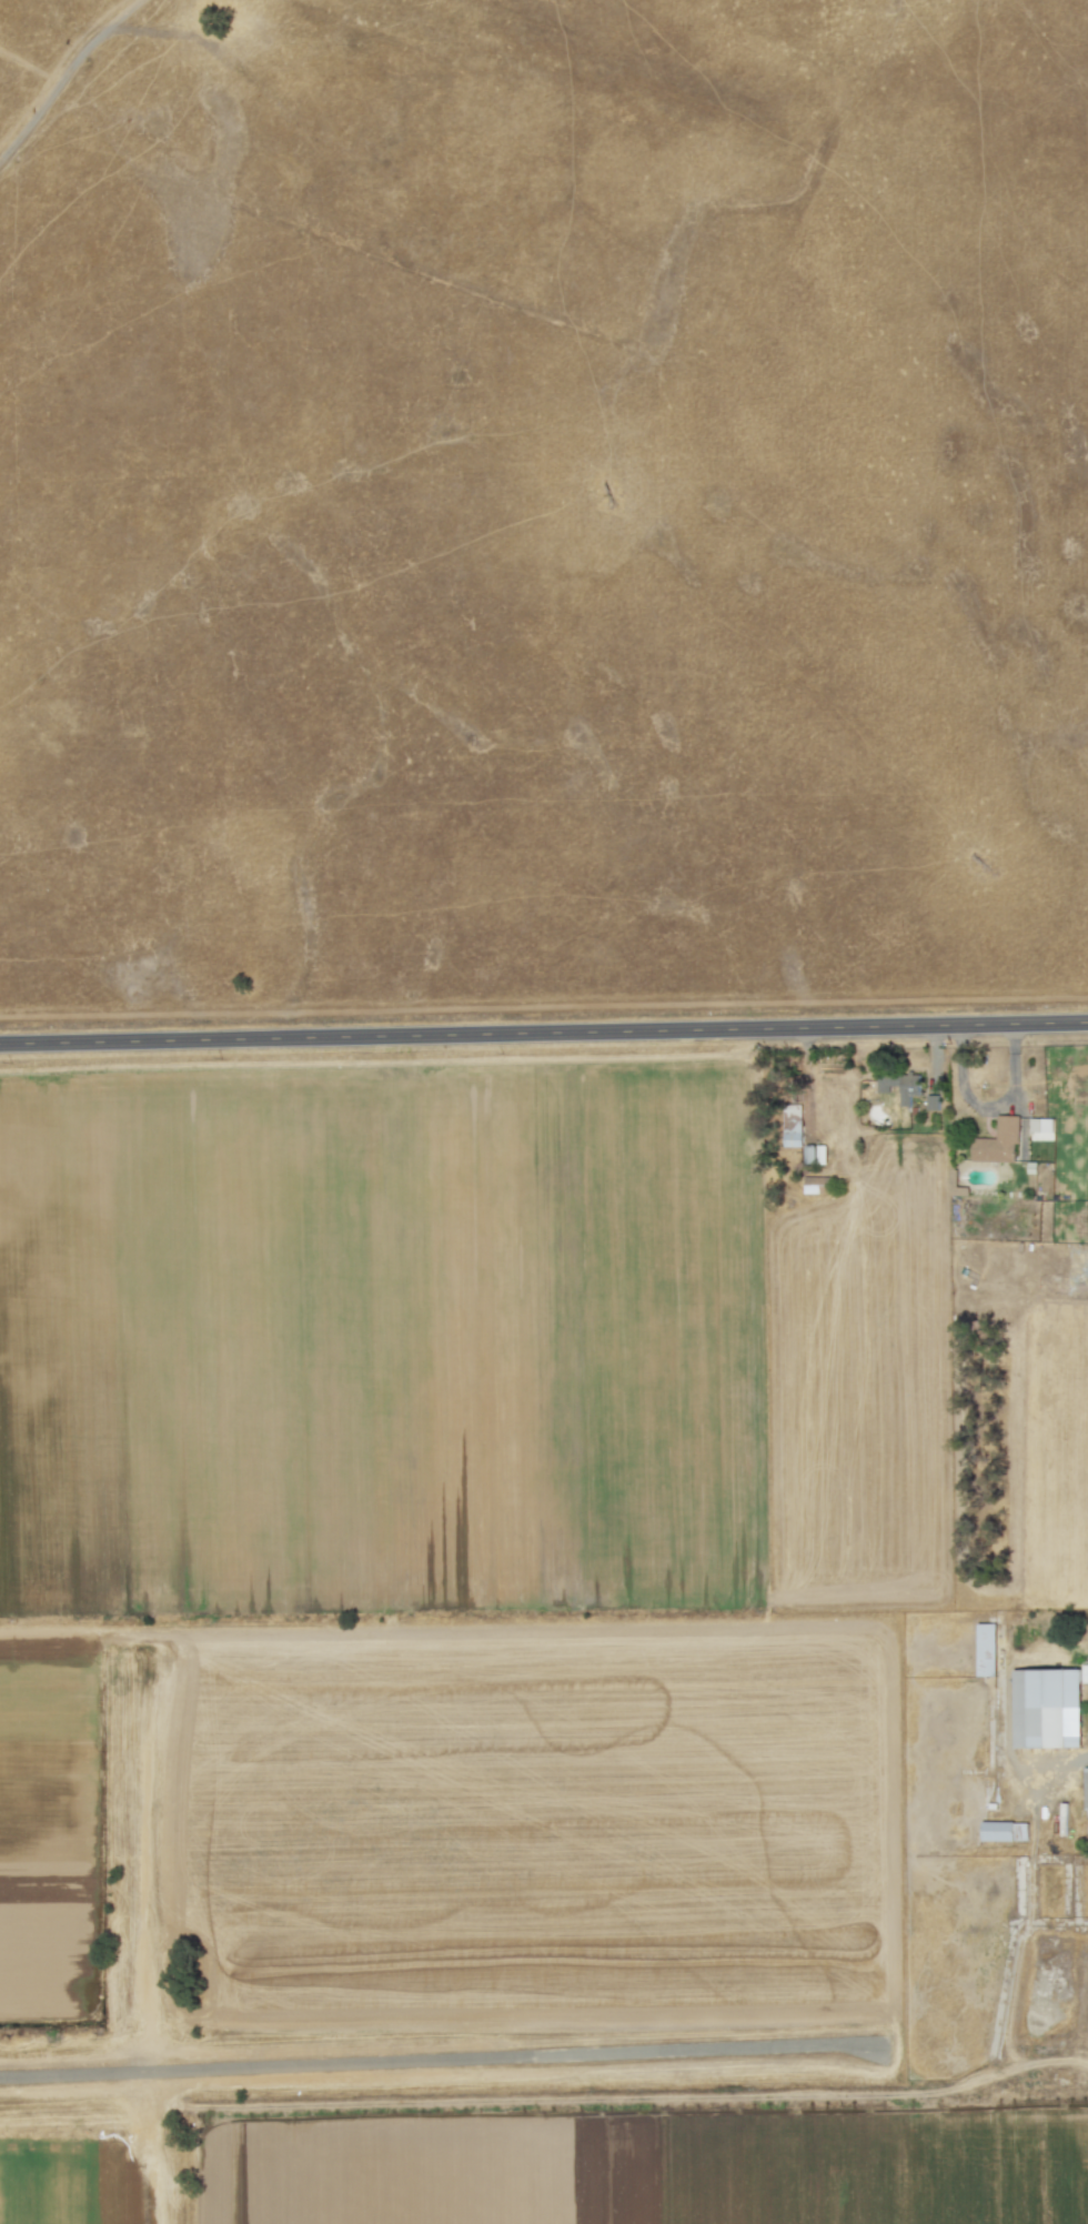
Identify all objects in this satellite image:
road: (543, 1035)
building: (899, 1086)
road: (985, 1106)
building: (792, 1126)
building: (1040, 1129)
building: (997, 1144)
building: (814, 1155)
building: (816, 1186)
building: (986, 1650)
building: (1084, 1673)
building: (1046, 1709)
building: (1085, 1789)
building: (1003, 1832)
airport runway: (439, 2059)

